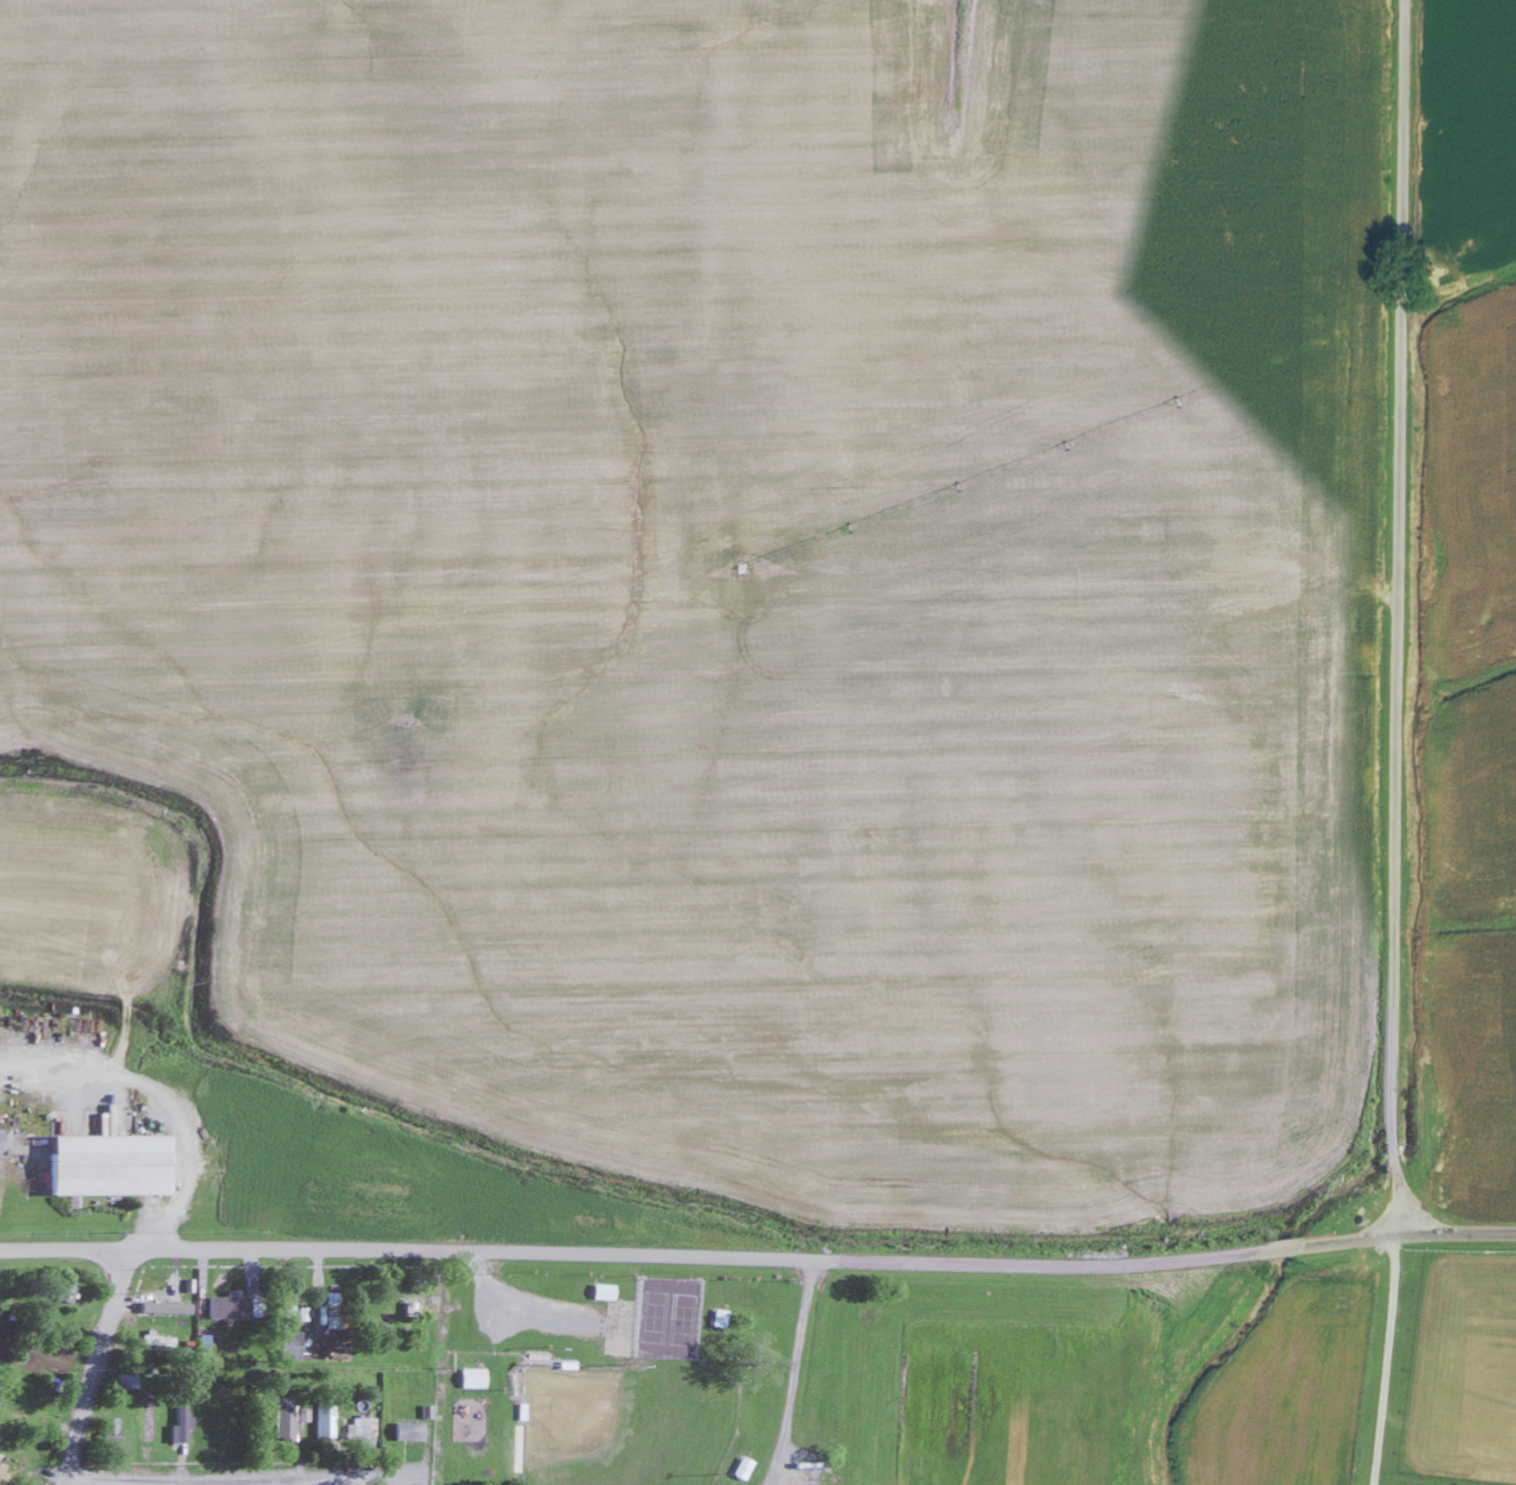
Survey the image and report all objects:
crop: (1469, 485)
road: (1397, 618)
building: (98, 1166)
road: (217, 1248)
road: (976, 1262)
building: (157, 1293)
building: (600, 1293)
building: (62, 1294)
building: (329, 1300)
building: (410, 1305)
building: (283, 1309)
building: (716, 1320)
park: (655, 1321)
park: (684, 1324)
building: (155, 1342)
building: (46, 1347)
building: (286, 1347)
road: (96, 1367)
building: (563, 1367)
building: (34, 1373)
building: (469, 1379)
building: (123, 1383)
building: (282, 1420)
building: (148, 1422)
park: (625, 1423)
building: (323, 1424)
building: (362, 1430)
building: (109, 1433)
building: (739, 1470)
road: (234, 1479)

